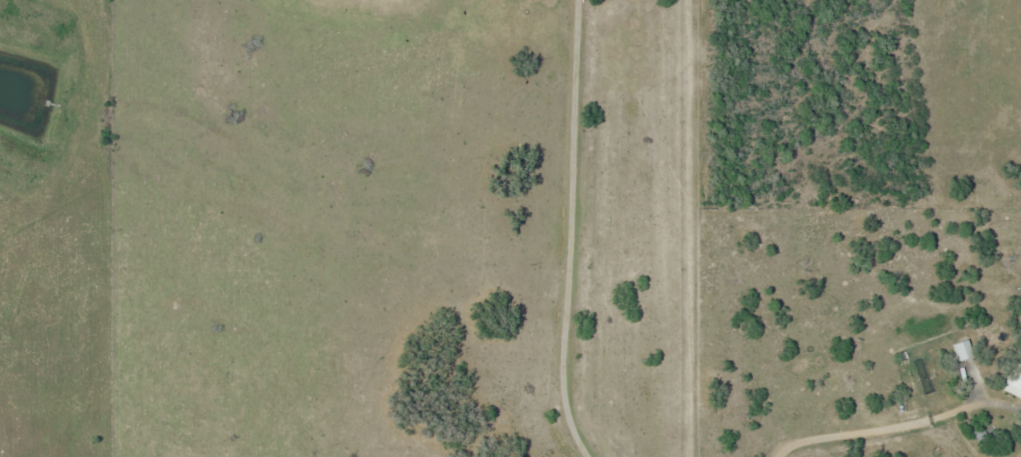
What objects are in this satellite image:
road: (568, 232)
building: (1013, 374)

